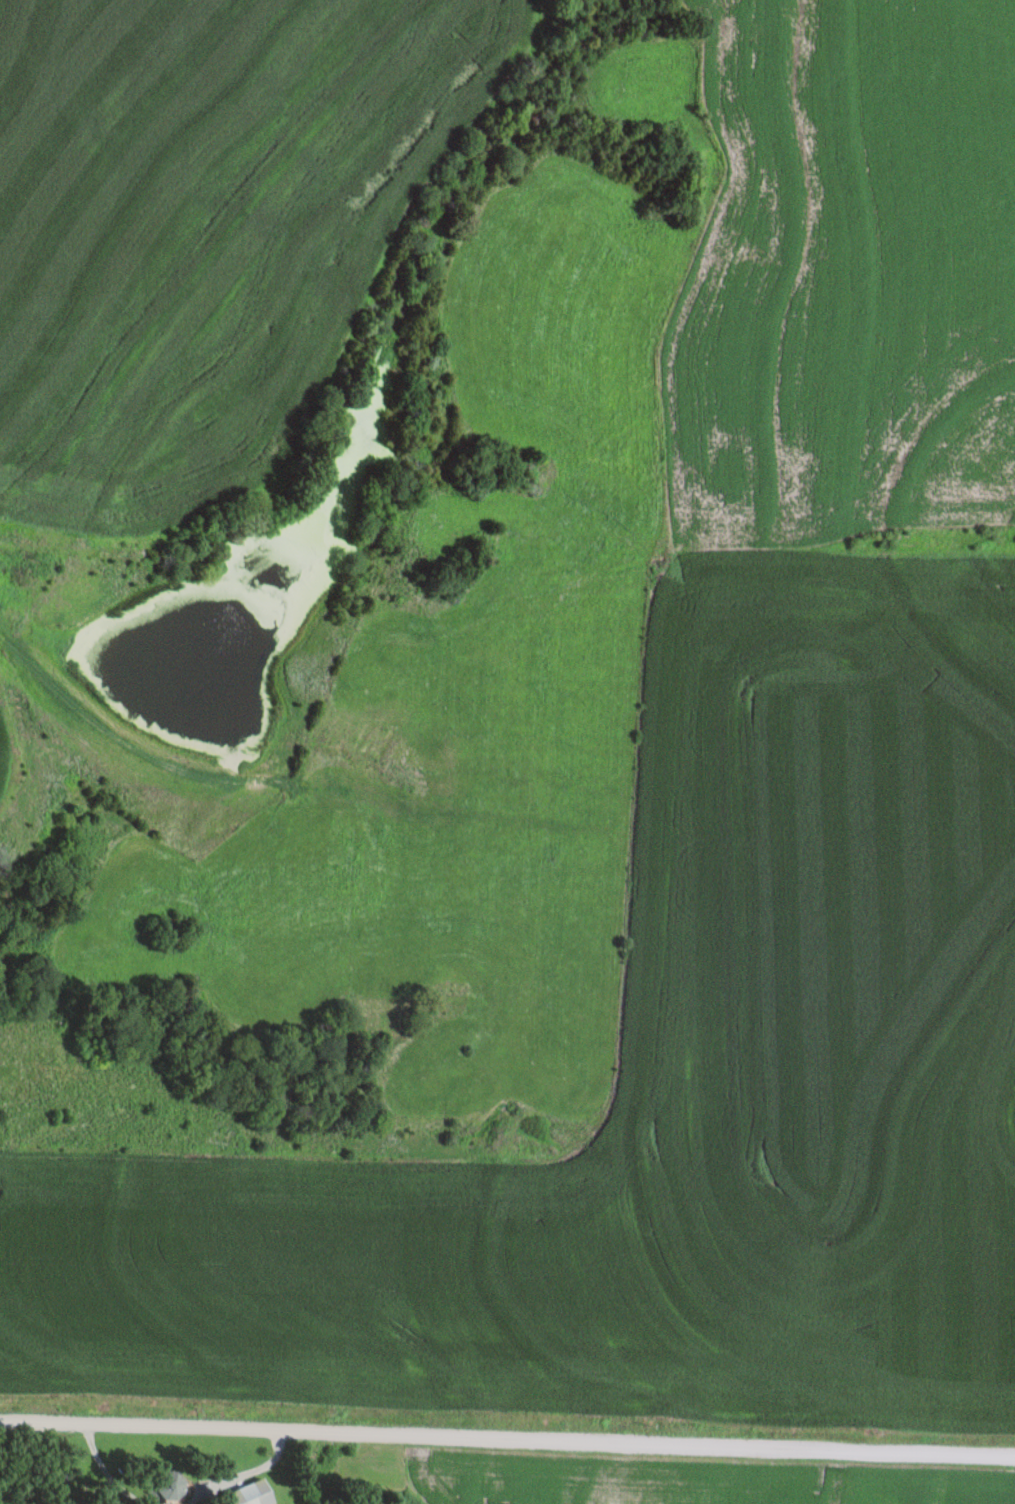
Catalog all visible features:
road: (507, 1437)
crop: (683, 1481)
building: (163, 1484)
building: (246, 1494)

